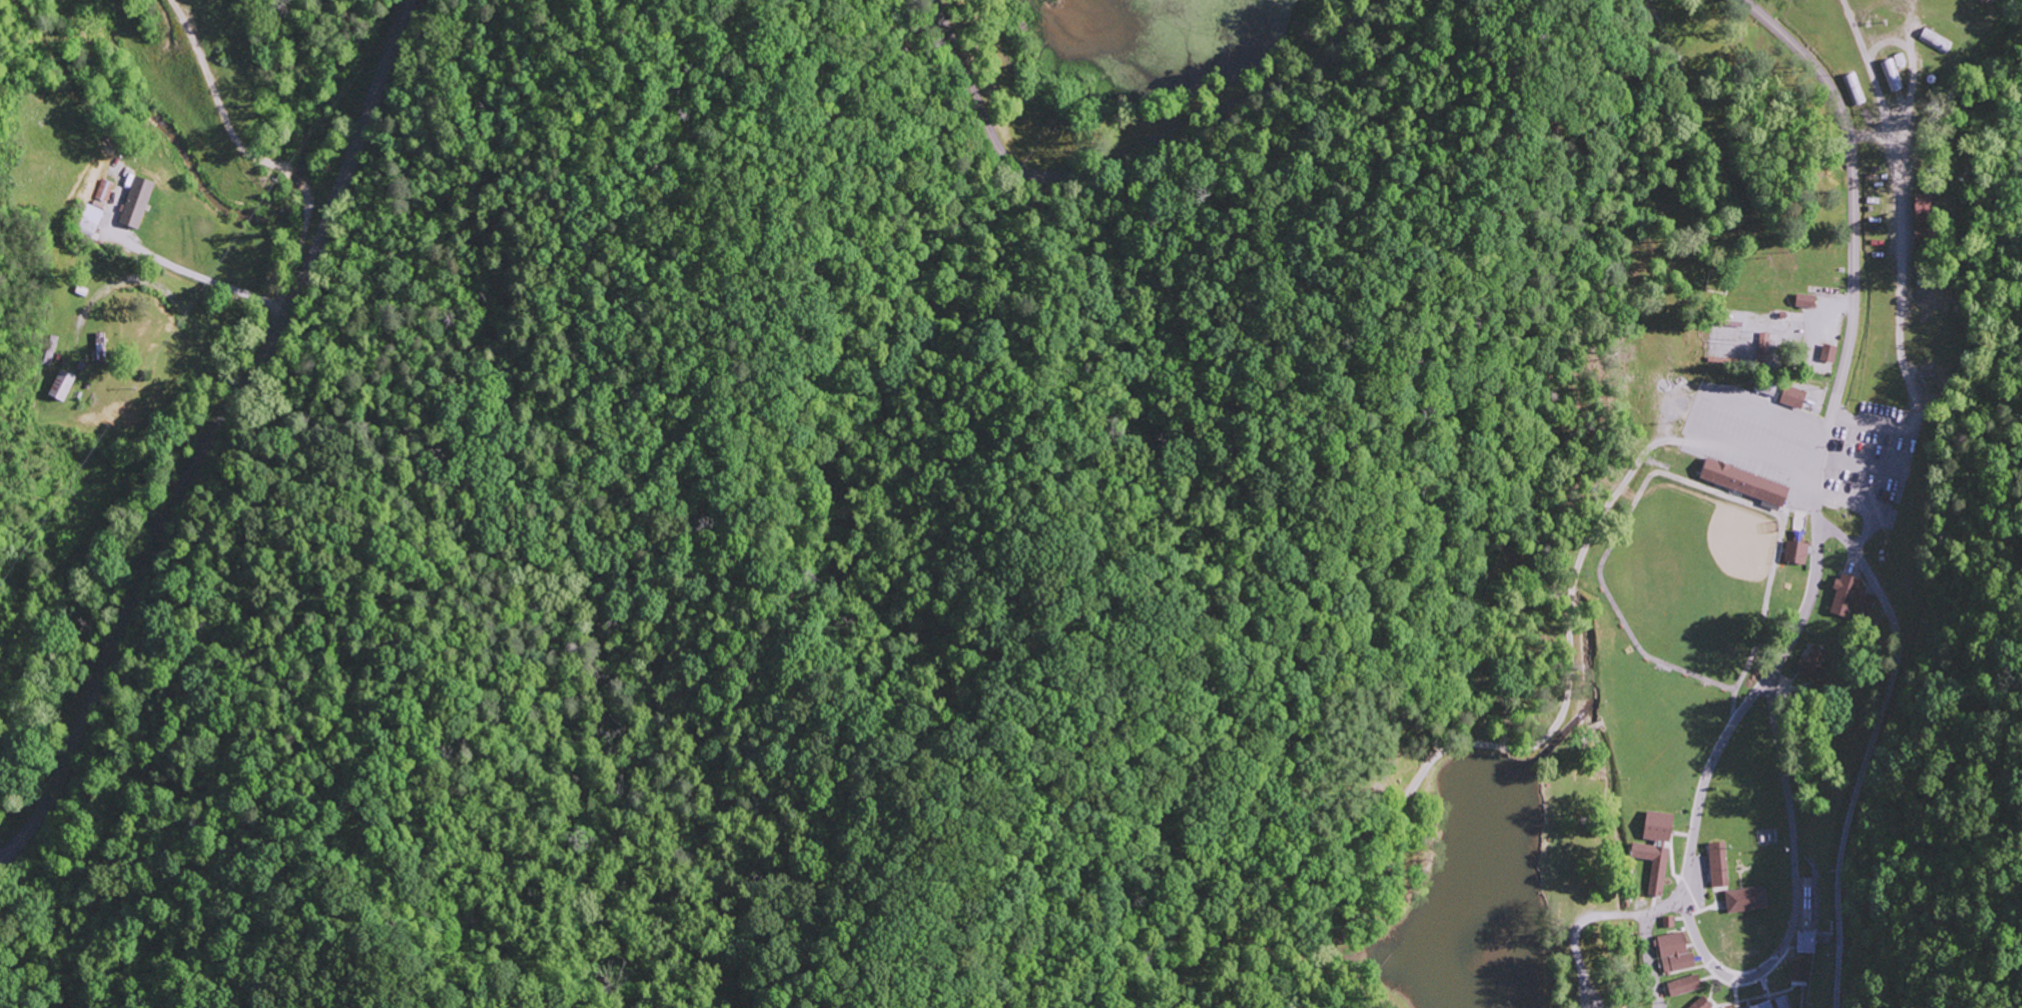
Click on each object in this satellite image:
building: (1985, 1)
building: (1891, 75)
road: (1122, 153)
building: (103, 195)
building: (136, 203)
building: (89, 221)
building: (1922, 228)
road: (1852, 246)
building: (1806, 301)
building: (1829, 353)
building: (62, 386)
building: (1794, 397)
road: (215, 435)
building: (1745, 483)
building: (1796, 553)
road: (1815, 568)
building: (1845, 596)
building: (1867, 604)
building: (1812, 664)
road: (1863, 752)
building: (1656, 848)
building: (1719, 865)
building: (1747, 899)
building: (1675, 952)
building: (1684, 985)
building: (1701, 1003)
building: (1771, 1003)

